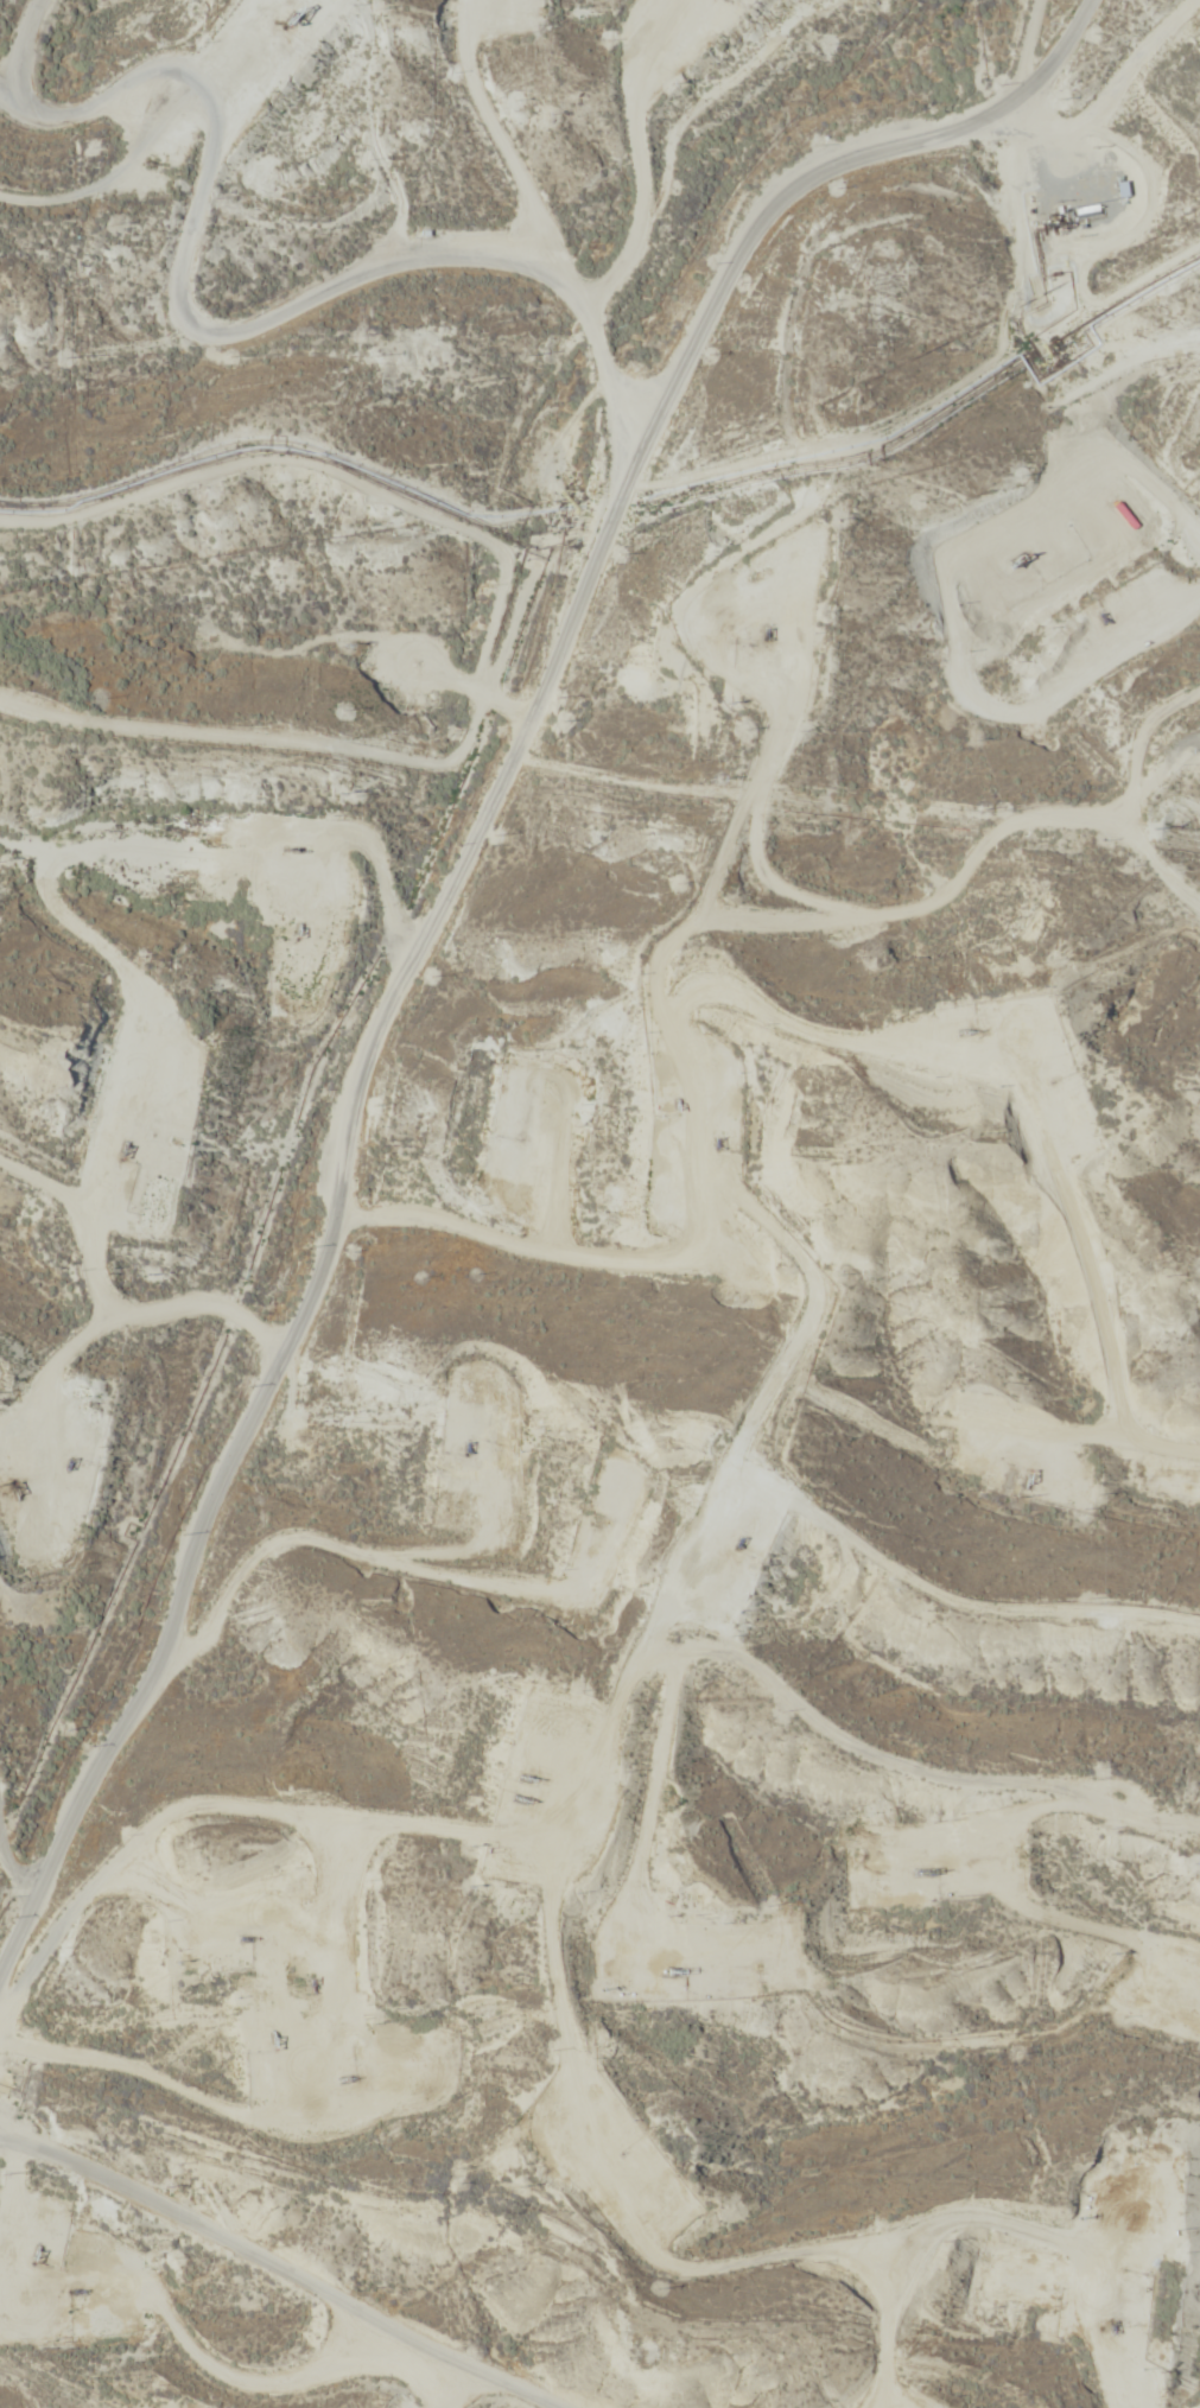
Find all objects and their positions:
road: (1090, 78)
road: (106, 119)
road: (605, 241)
road: (223, 319)
petroleum well: (766, 634)
road: (782, 820)
road: (432, 821)
petroleum well: (298, 851)
road: (1151, 858)
road: (450, 908)
road: (190, 1129)
road: (469, 1192)
petroleum well: (470, 1448)
petroleum well: (69, 1467)
petroleum well: (13, 1489)
road: (392, 1531)
petroleum well: (742, 1544)
road: (828, 1685)
road: (30, 1777)
petroleum well: (525, 1780)
petroleum well: (523, 1796)
petroleum well: (246, 1942)
petroleum well: (675, 1972)
petroleum well: (315, 1977)
road: (602, 1986)
petroleum well: (277, 2039)
petroleum well: (350, 2077)
petroleum well: (37, 2253)
road: (275, 2277)
petroleum well: (78, 2291)

